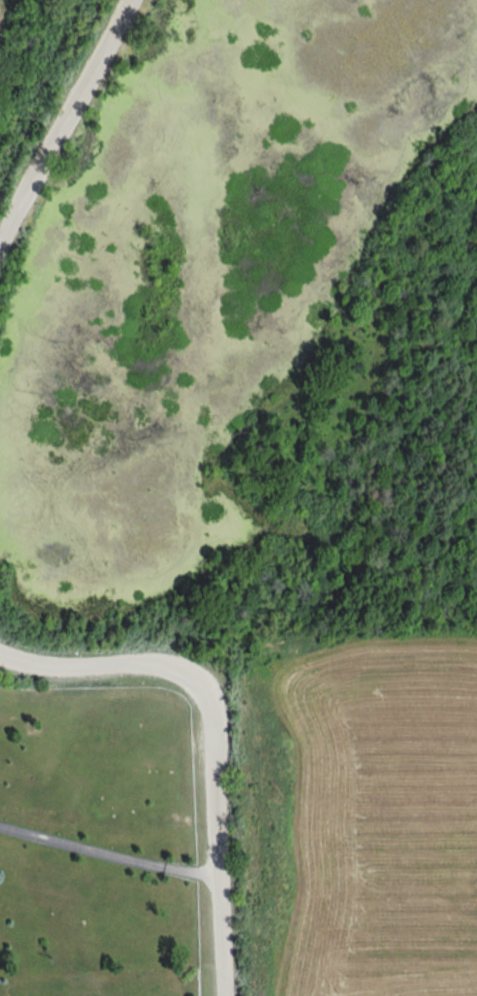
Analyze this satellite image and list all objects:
road: (65, 122)
road: (215, 733)
road: (110, 855)

